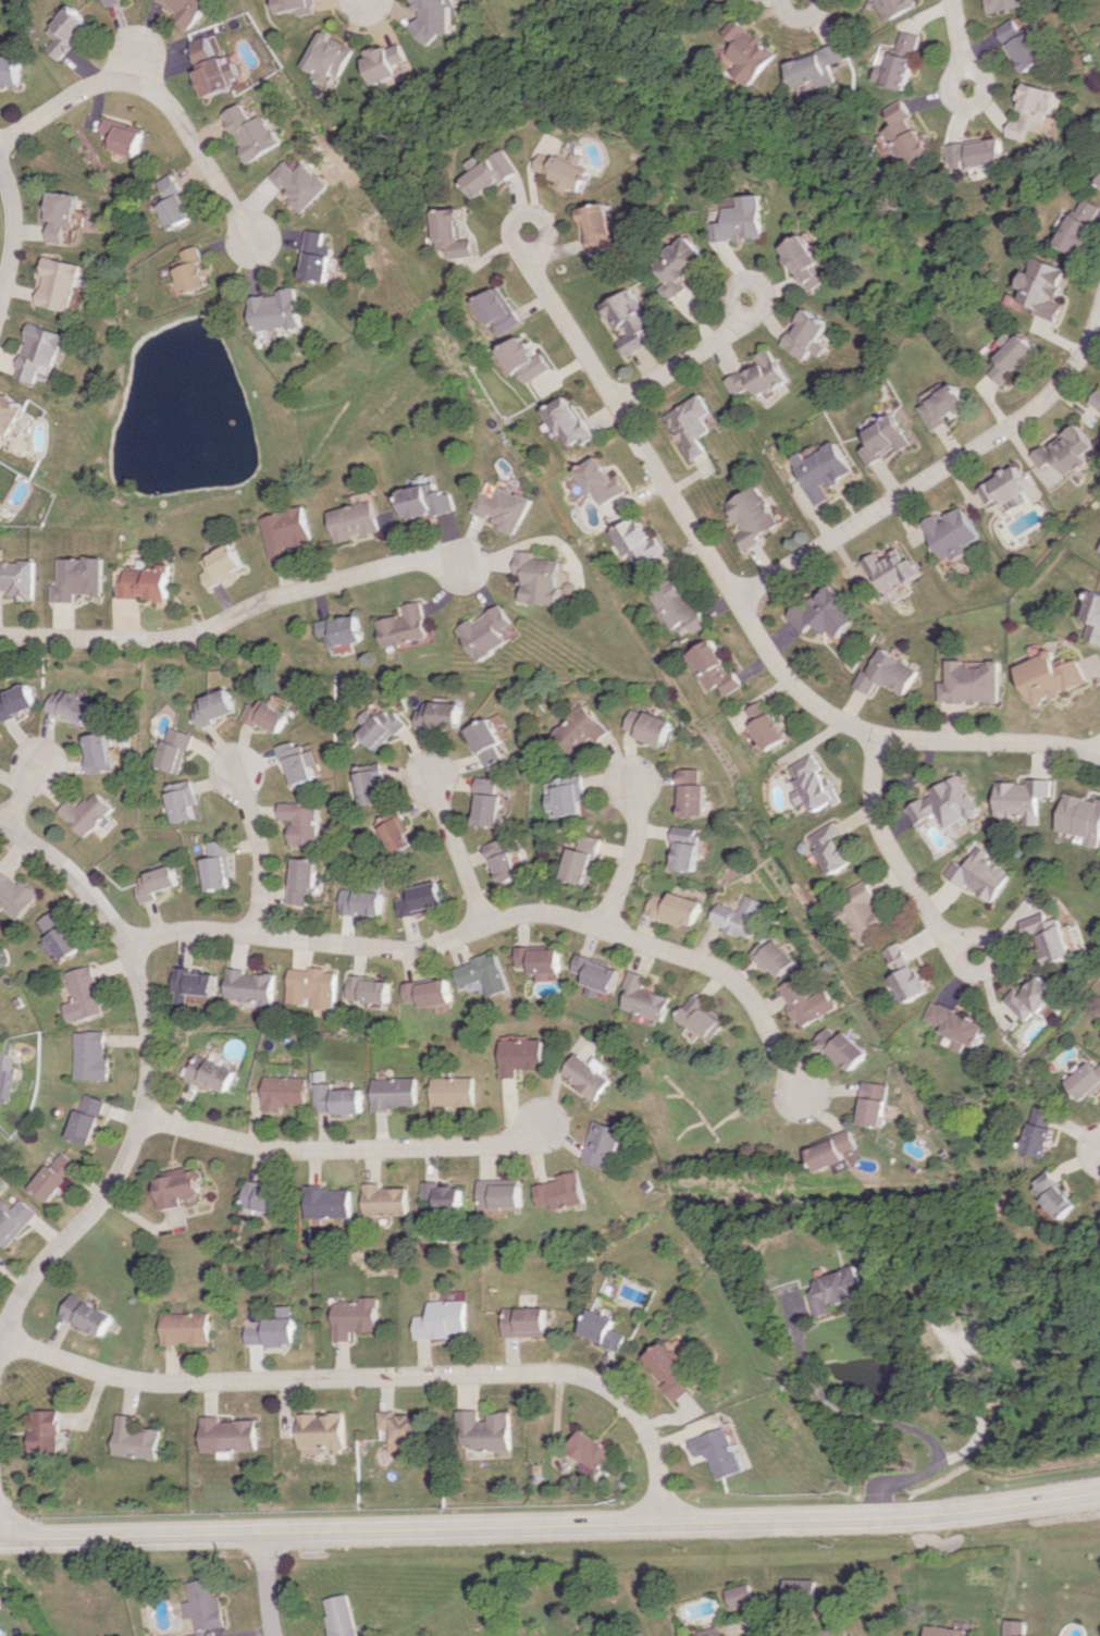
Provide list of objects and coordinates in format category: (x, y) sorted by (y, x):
building: (741, 0)
building: (111, 1)
road: (369, 2)
building: (1004, 4)
building: (294, 5)
building: (895, 7)
building: (188, 9)
building: (437, 16)
building: (66, 30)
road: (140, 34)
road: (960, 42)
building: (1023, 45)
building: (754, 51)
building: (327, 57)
building: (387, 61)
building: (901, 61)
building: (820, 65)
building: (212, 67)
building: (9, 71)
road: (156, 96)
building: (1034, 110)
building: (251, 132)
building: (910, 134)
building: (120, 137)
building: (980, 151)
building: (566, 170)
building: (490, 172)
building: (299, 184)
building: (172, 202)
building: (60, 214)
building: (742, 220)
building: (601, 226)
building: (1083, 226)
road: (10, 232)
building: (452, 233)
building: (318, 257)
building: (806, 261)
building: (679, 267)
building: (190, 271)
building: (59, 284)
building: (1046, 287)
building: (276, 310)
building: (497, 310)
building: (628, 320)
building: (809, 334)
building: (41, 353)
building: (1013, 356)
road: (687, 357)
building: (523, 360)
building: (759, 376)
building: (1097, 402)
building: (944, 406)
building: (11, 414)
building: (566, 420)
building: (691, 425)
building: (23, 428)
building: (885, 439)
building: (1063, 454)
building: (821, 470)
road: (935, 473)
building: (600, 482)
building: (1009, 488)
building: (427, 502)
building: (504, 508)
building: (753, 516)
building: (355, 520)
building: (286, 531)
building: (952, 533)
building: (635, 541)
building: (1099, 550)
building: (223, 565)
building: (891, 570)
building: (78, 578)
building: (539, 578)
building: (17, 579)
building: (147, 582)
road: (736, 599)
building: (675, 604)
building: (824, 613)
road: (236, 615)
building: (1092, 617)
building: (406, 626)
building: (344, 630)
building: (487, 631)
building: (712, 667)
building: (888, 673)
building: (1047, 676)
building: (969, 682)
building: (16, 701)
building: (71, 706)
building: (214, 706)
building: (441, 714)
building: (268, 716)
building: (764, 724)
building: (382, 726)
building: (646, 726)
building: (577, 731)
building: (489, 741)
building: (173, 749)
building: (98, 751)
building: (298, 763)
building: (812, 783)
building: (369, 786)
road: (25, 791)
building: (690, 794)
building: (569, 795)
building: (1022, 798)
building: (180, 800)
building: (944, 803)
building: (493, 804)
building: (88, 813)
building: (1082, 817)
building: (300, 822)
building: (396, 835)
road: (256, 846)
building: (829, 847)
road: (460, 848)
building: (683, 848)
road: (634, 853)
road: (894, 857)
building: (509, 859)
building: (585, 860)
building: (979, 874)
building: (299, 879)
building: (155, 883)
building: (15, 894)
building: (419, 899)
building: (358, 901)
building: (677, 908)
building: (863, 913)
building: (737, 915)
road: (508, 918)
building: (59, 935)
building: (1049, 936)
building: (773, 956)
building: (543, 960)
building: (482, 973)
building: (904, 973)
building: (603, 974)
building: (190, 983)
building: (248, 987)
building: (309, 987)
building: (366, 989)
building: (425, 993)
building: (83, 994)
building: (651, 997)
building: (1033, 998)
building: (806, 1001)
building: (707, 1017)
building: (957, 1025)
building: (844, 1048)
building: (90, 1056)
building: (520, 1056)
building: (1, 1060)
road: (145, 1071)
building: (208, 1073)
building: (590, 1074)
building: (1087, 1081)
building: (281, 1092)
building: (450, 1092)
building: (392, 1093)
building: (334, 1099)
building: (876, 1104)
building: (86, 1120)
building: (1040, 1132)
building: (604, 1143)
road: (344, 1149)
building: (836, 1149)
road: (1099, 1155)
building: (55, 1176)
building: (175, 1186)
building: (561, 1191)
building: (498, 1193)
building: (442, 1195)
building: (1056, 1195)
building: (260, 1196)
building: (383, 1200)
building: (327, 1202)
building: (13, 1219)
building: (836, 1290)
building: (85, 1315)
building: (354, 1317)
building: (441, 1319)
building: (526, 1321)
building: (183, 1328)
building: (273, 1329)
building: (605, 1329)
building: (670, 1369)
road: (379, 1376)
road: (891, 1423)
building: (400, 1429)
building: (42, 1430)
building: (321, 1430)
building: (485, 1430)
building: (226, 1435)
building: (133, 1439)
building: (592, 1450)
building: (719, 1451)
road: (551, 1525)
road: (265, 1584)
building: (800, 1589)
building: (741, 1595)
building: (202, 1604)
building: (338, 1615)
building: (1015, 1627)
building: (944, 1631)
building: (708, 1632)
building: (831, 1632)
building: (194, 1635)

